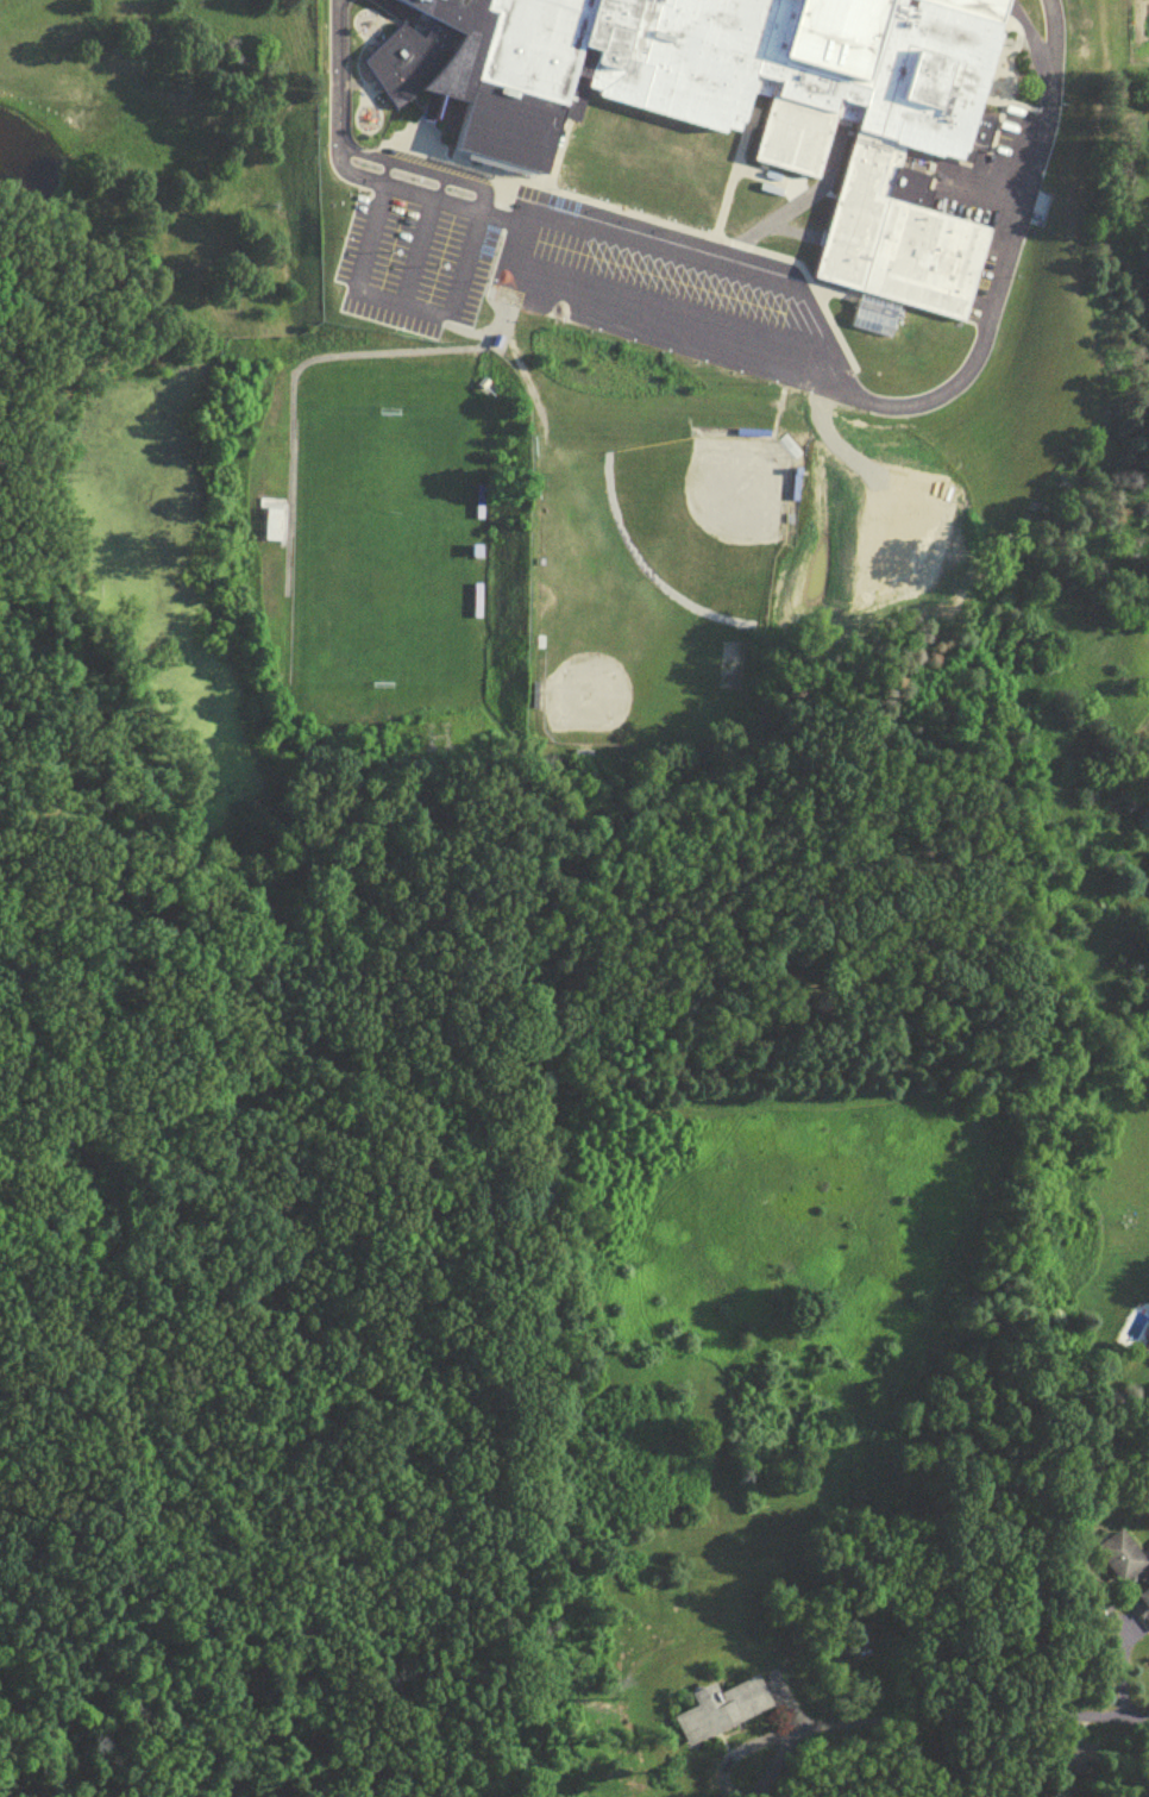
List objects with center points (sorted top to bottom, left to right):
building: (735, 102)
road: (555, 154)
road: (422, 167)
road: (760, 167)
road: (347, 170)
road: (733, 171)
road: (771, 176)
road: (796, 181)
road: (806, 194)
road: (501, 198)
parking lot: (981, 200)
road: (682, 227)
road: (412, 249)
parking lot: (407, 265)
road: (831, 289)
parking lot: (666, 290)
road: (397, 300)
road: (655, 313)
road: (466, 328)
road: (320, 353)
road: (899, 403)
building: (752, 426)
building: (795, 476)
park: (734, 487)
building: (481, 494)
building: (275, 524)
park: (384, 543)
park: (626, 586)
building: (477, 595)
building: (1128, 1572)
building: (718, 1715)
road: (1087, 1716)
road: (875, 1721)

